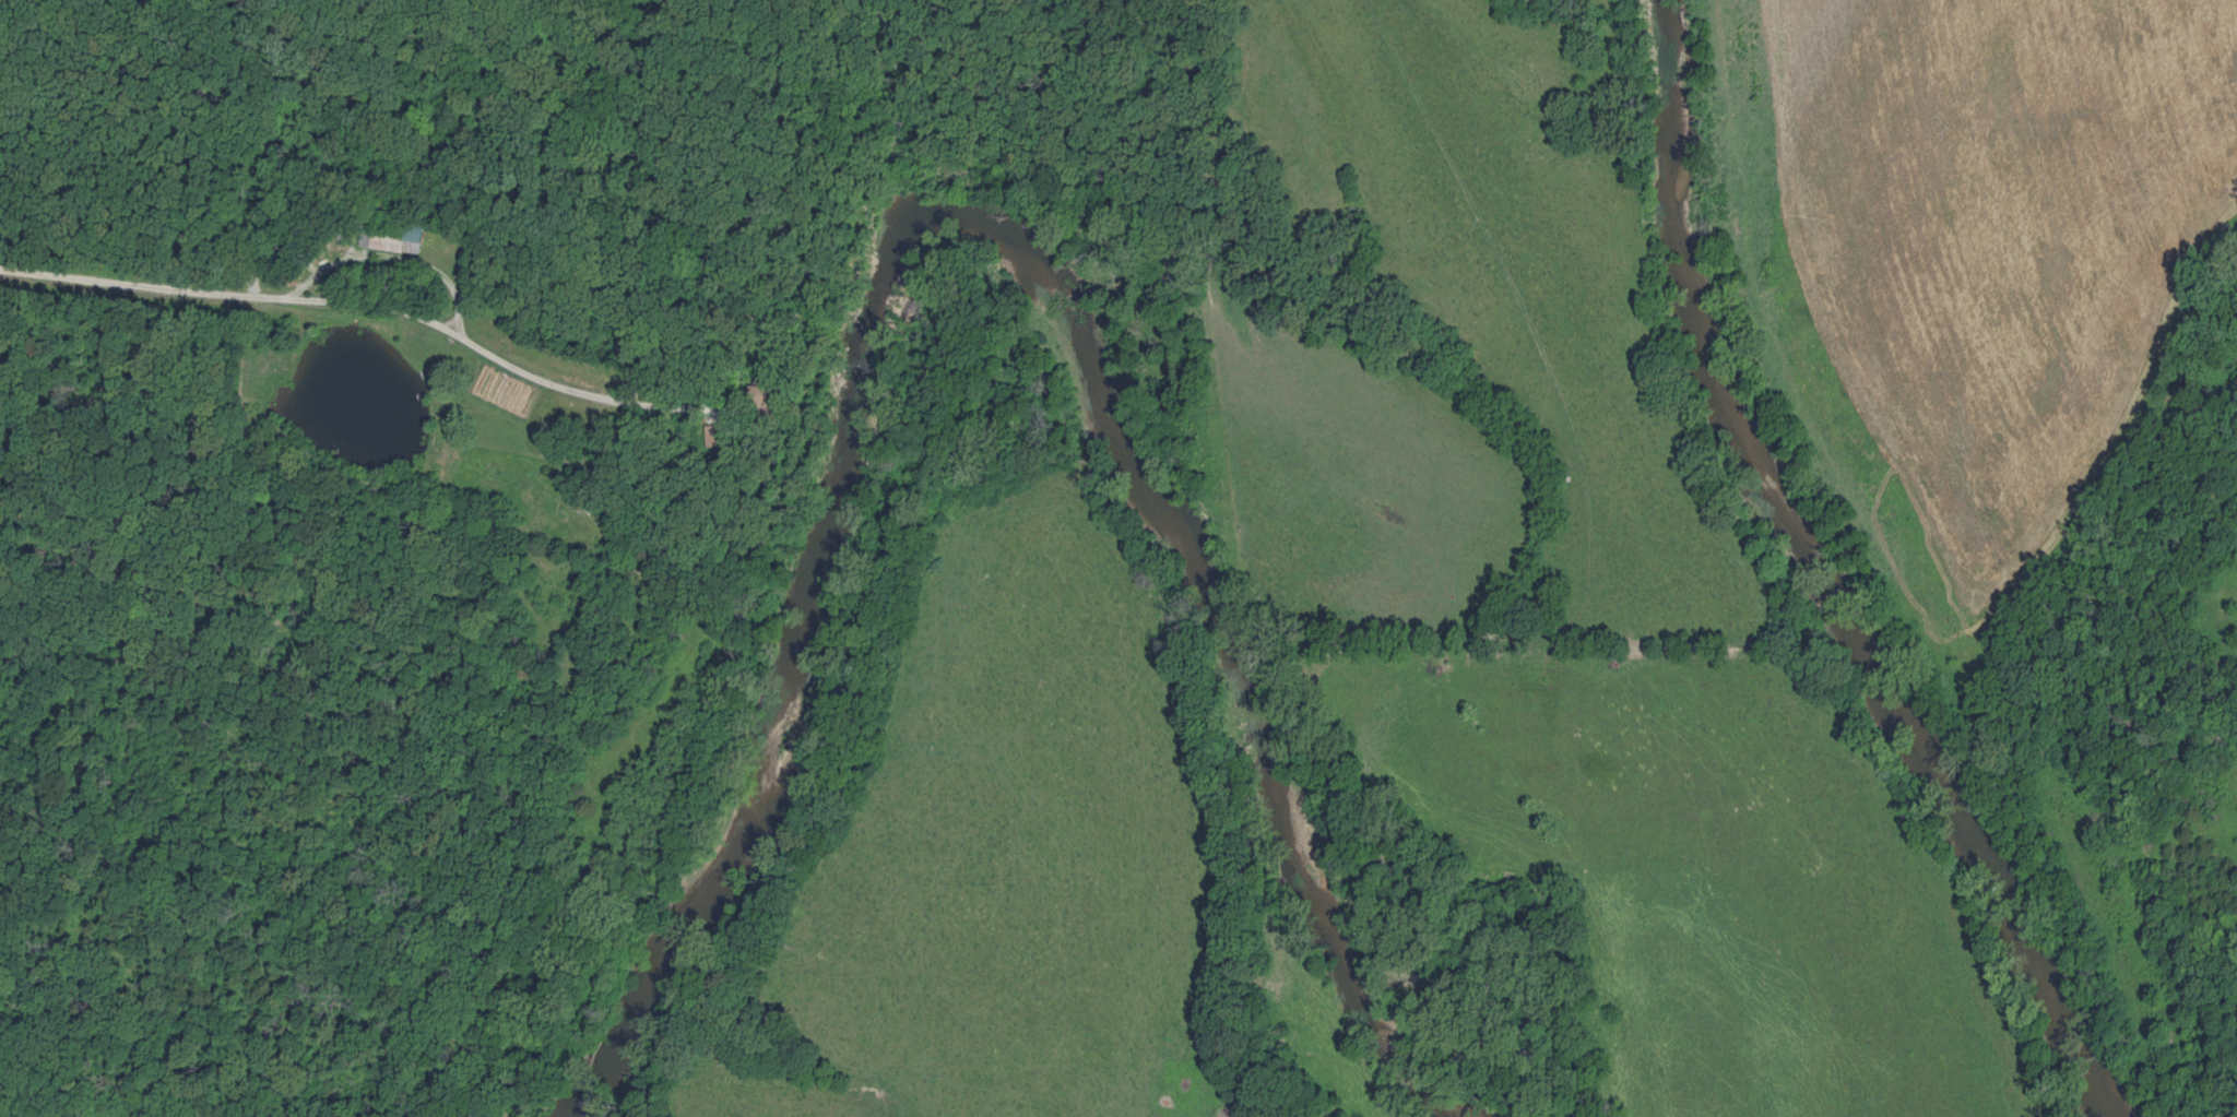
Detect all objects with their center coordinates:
building: (398, 237)
road: (388, 253)
road: (357, 299)

